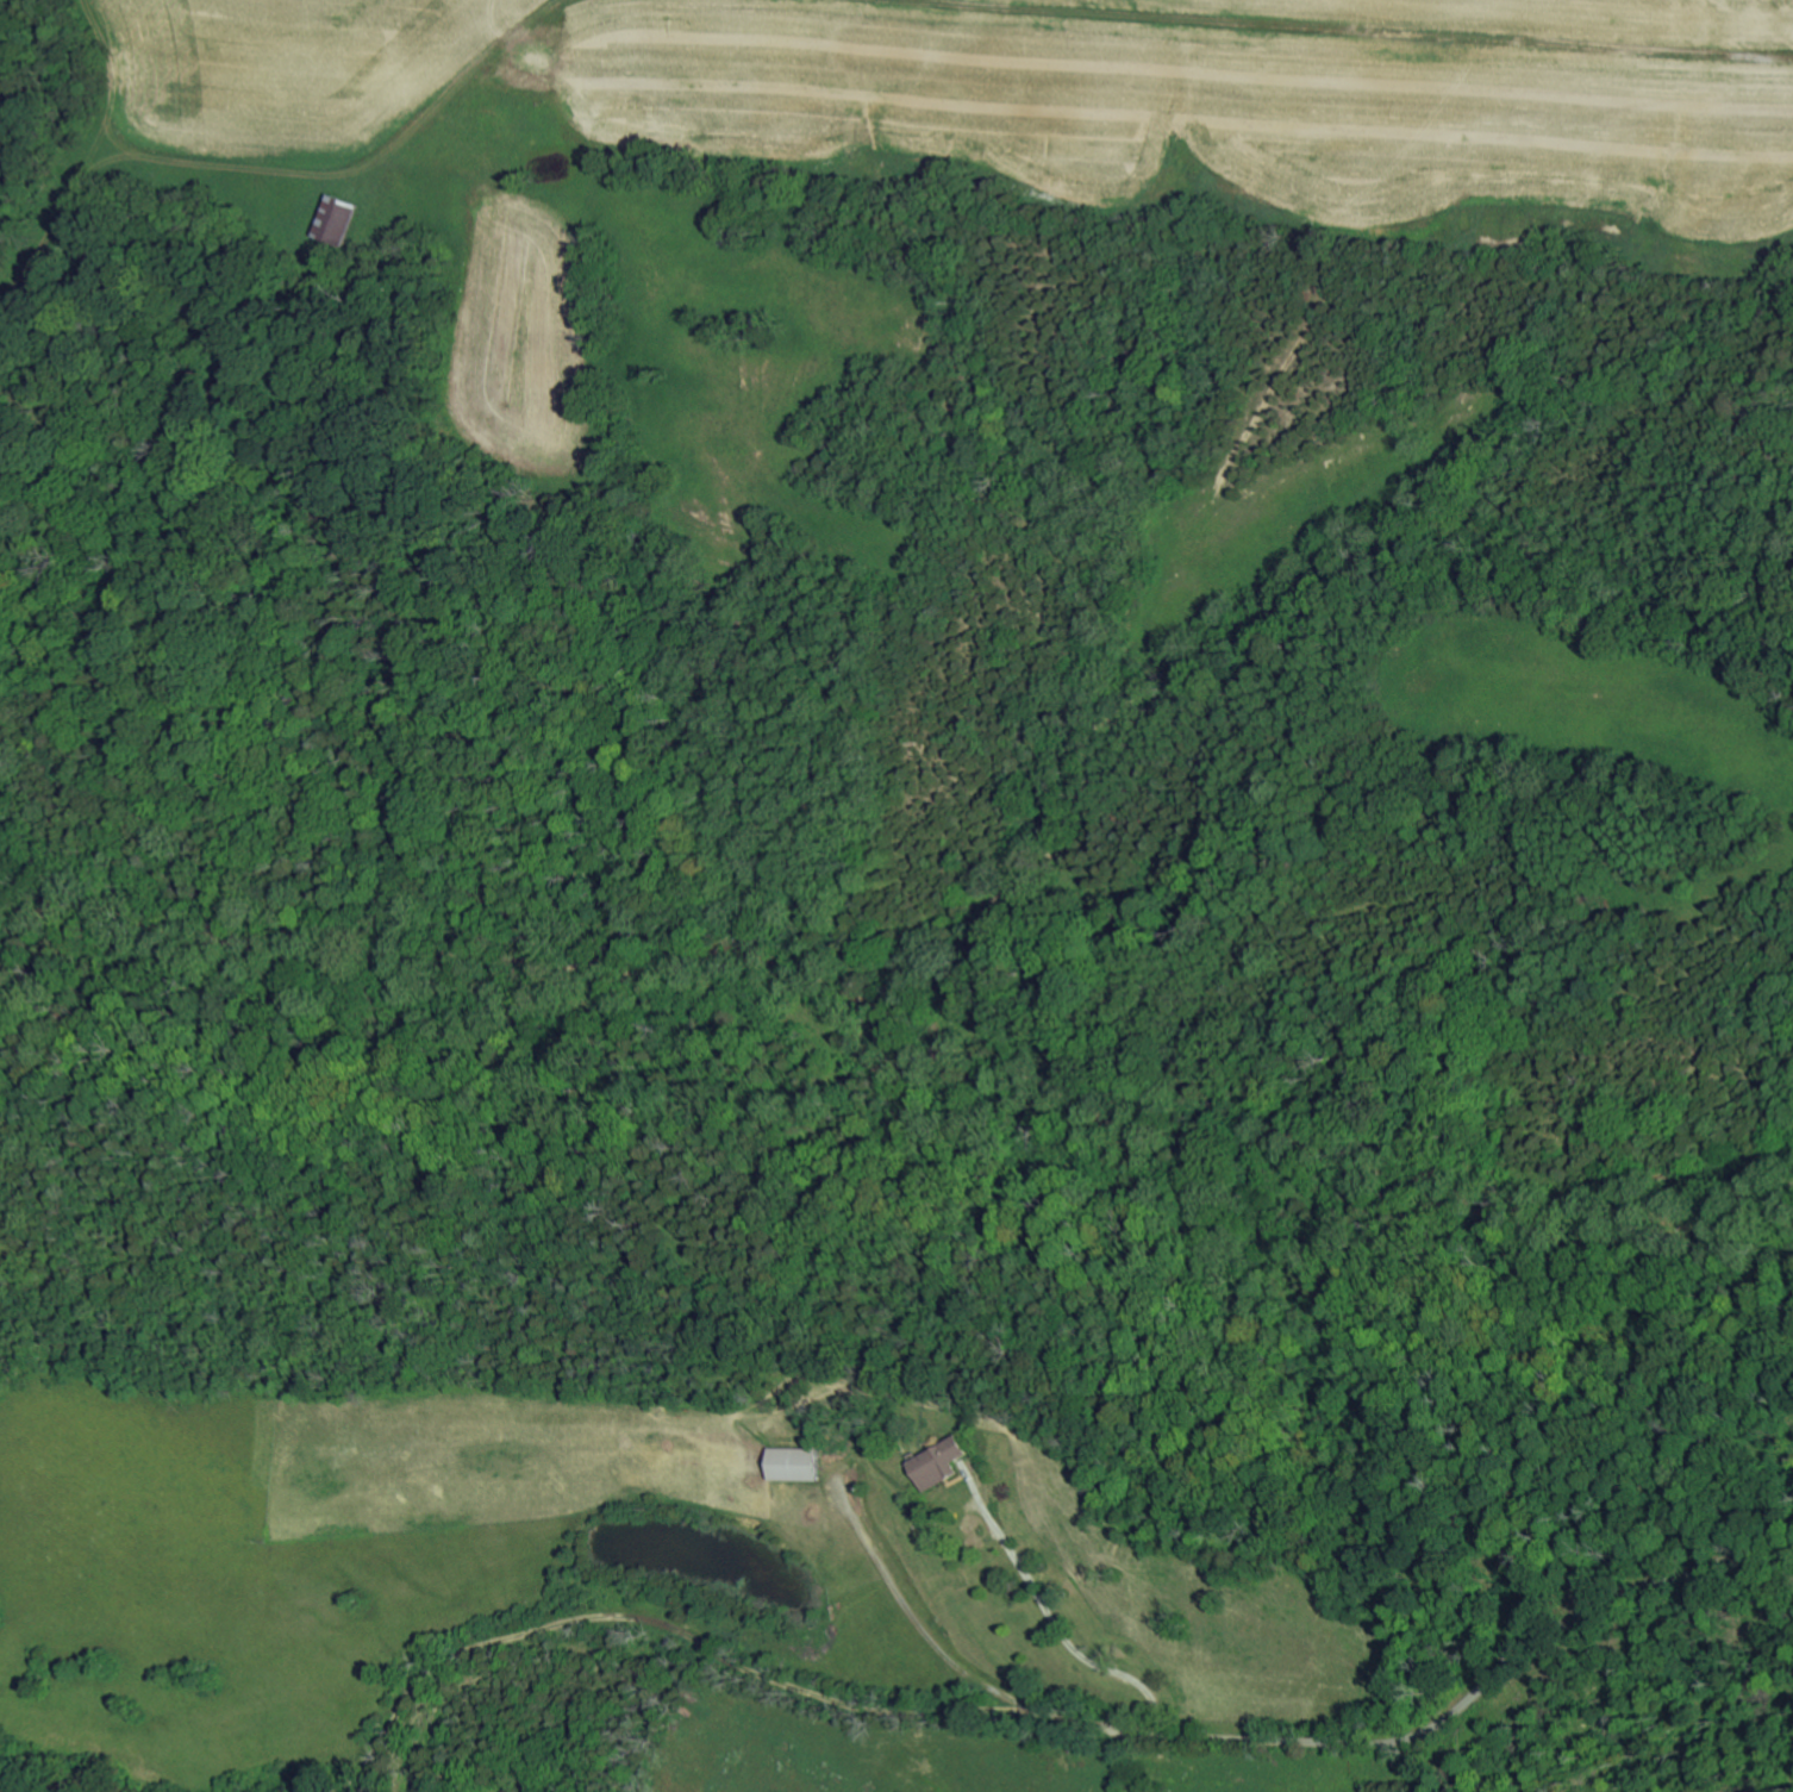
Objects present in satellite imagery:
building: (331, 223)
building: (933, 1463)
building: (789, 1465)
road: (1467, 1705)

